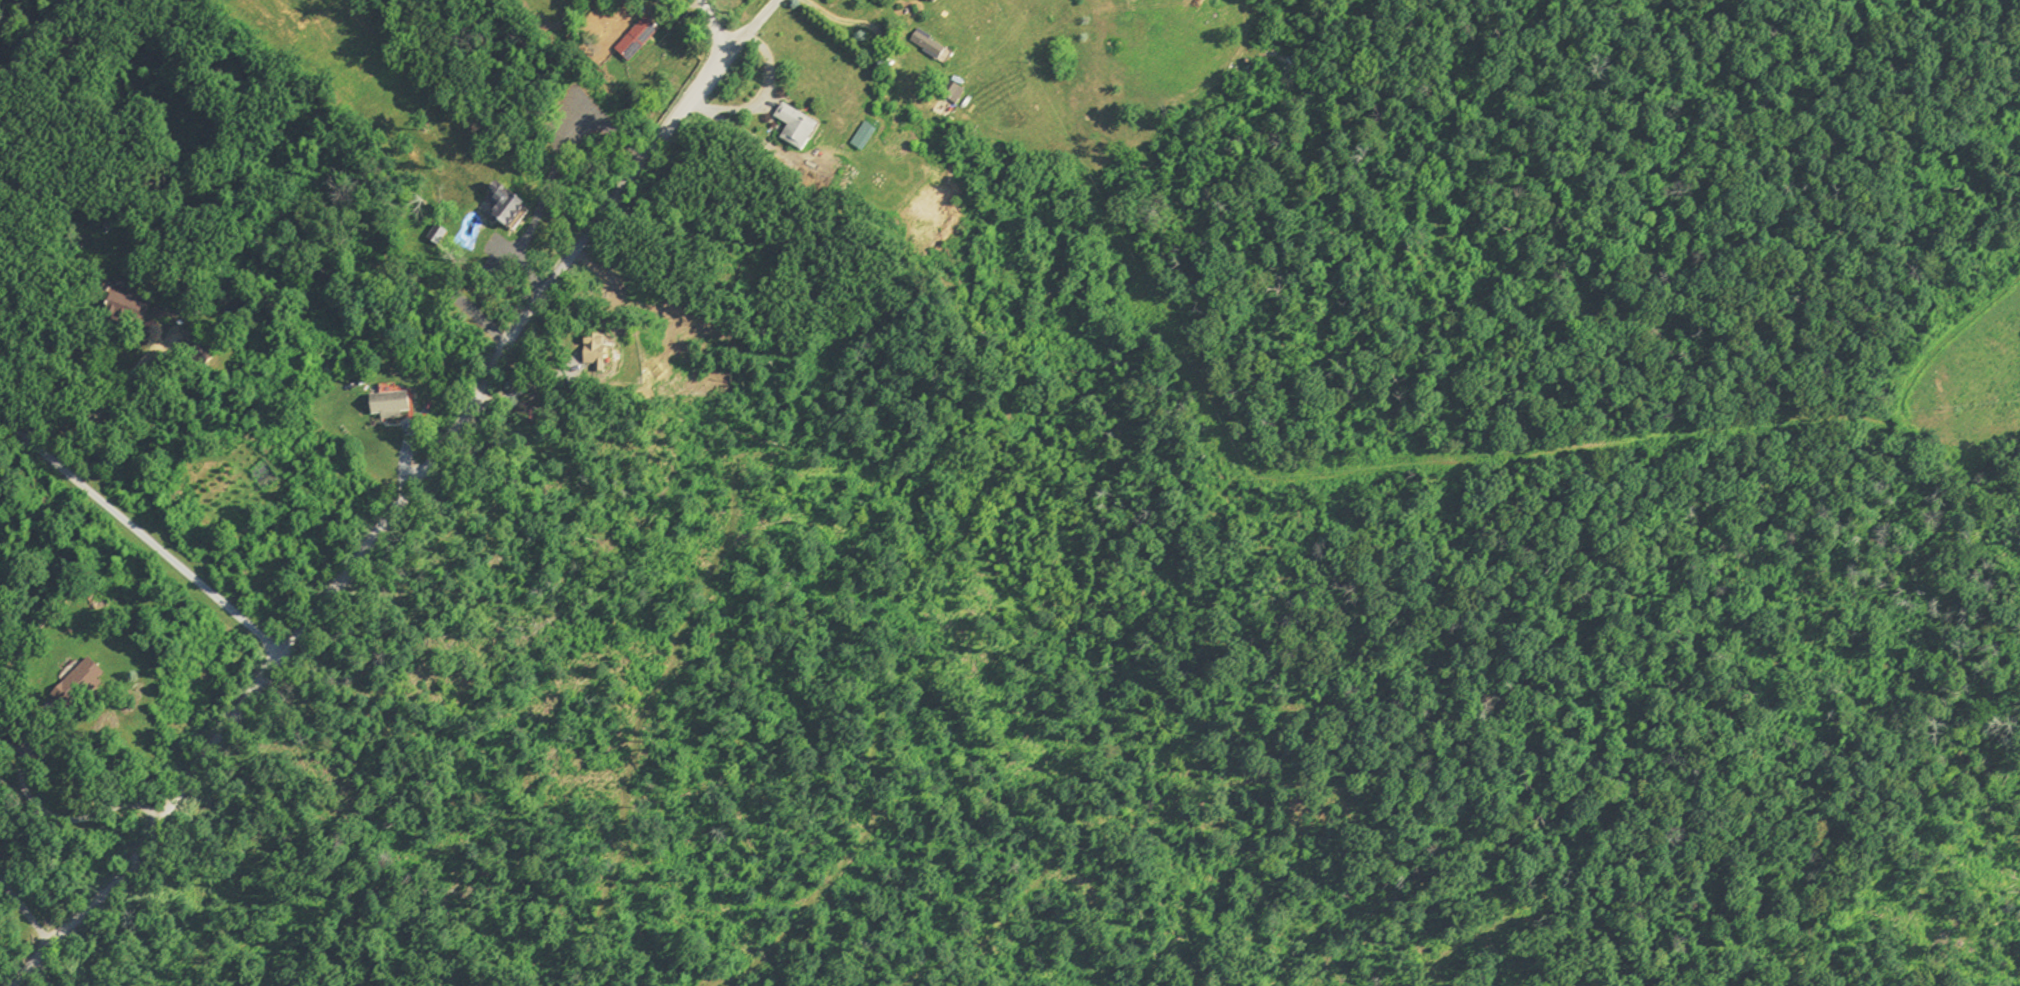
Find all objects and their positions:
building: (947, 1)
road: (718, 27)
building: (648, 40)
building: (809, 128)
building: (875, 138)
building: (522, 207)
road: (612, 212)
road: (112, 393)
building: (403, 405)
road: (13, 445)
road: (113, 510)
road: (255, 629)
building: (90, 680)
road: (235, 710)
road: (46, 811)
road: (26, 913)

